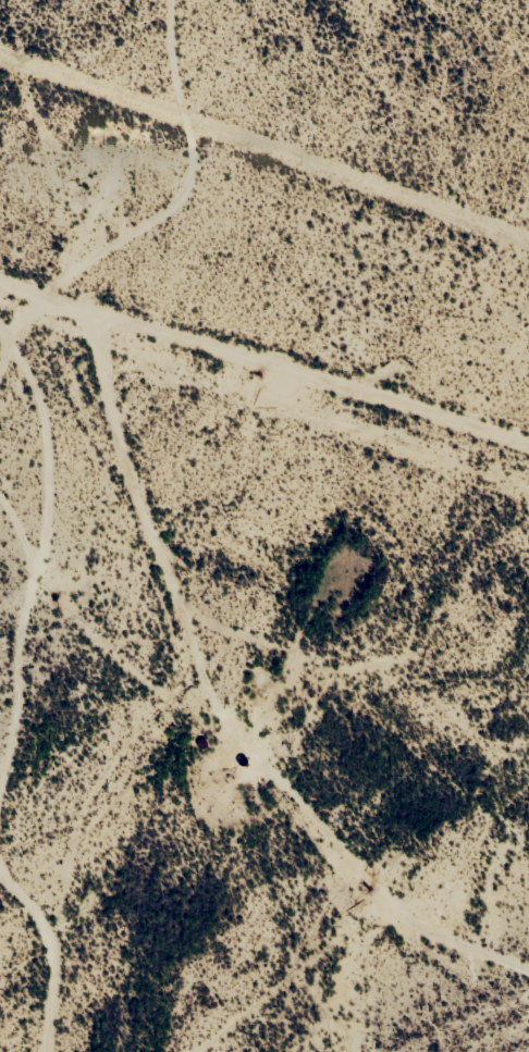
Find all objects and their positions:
road: (267, 334)

